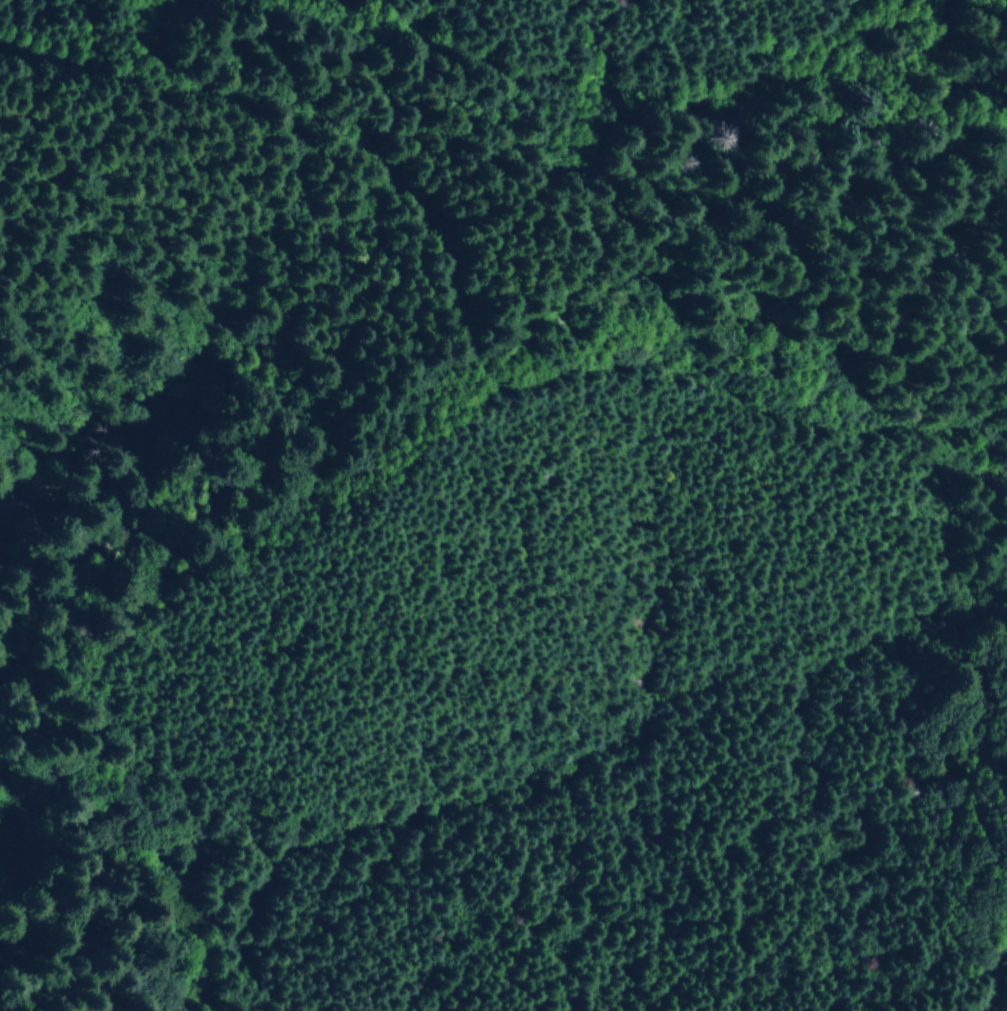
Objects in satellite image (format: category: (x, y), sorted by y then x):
road: (723, 286)
road: (984, 945)

